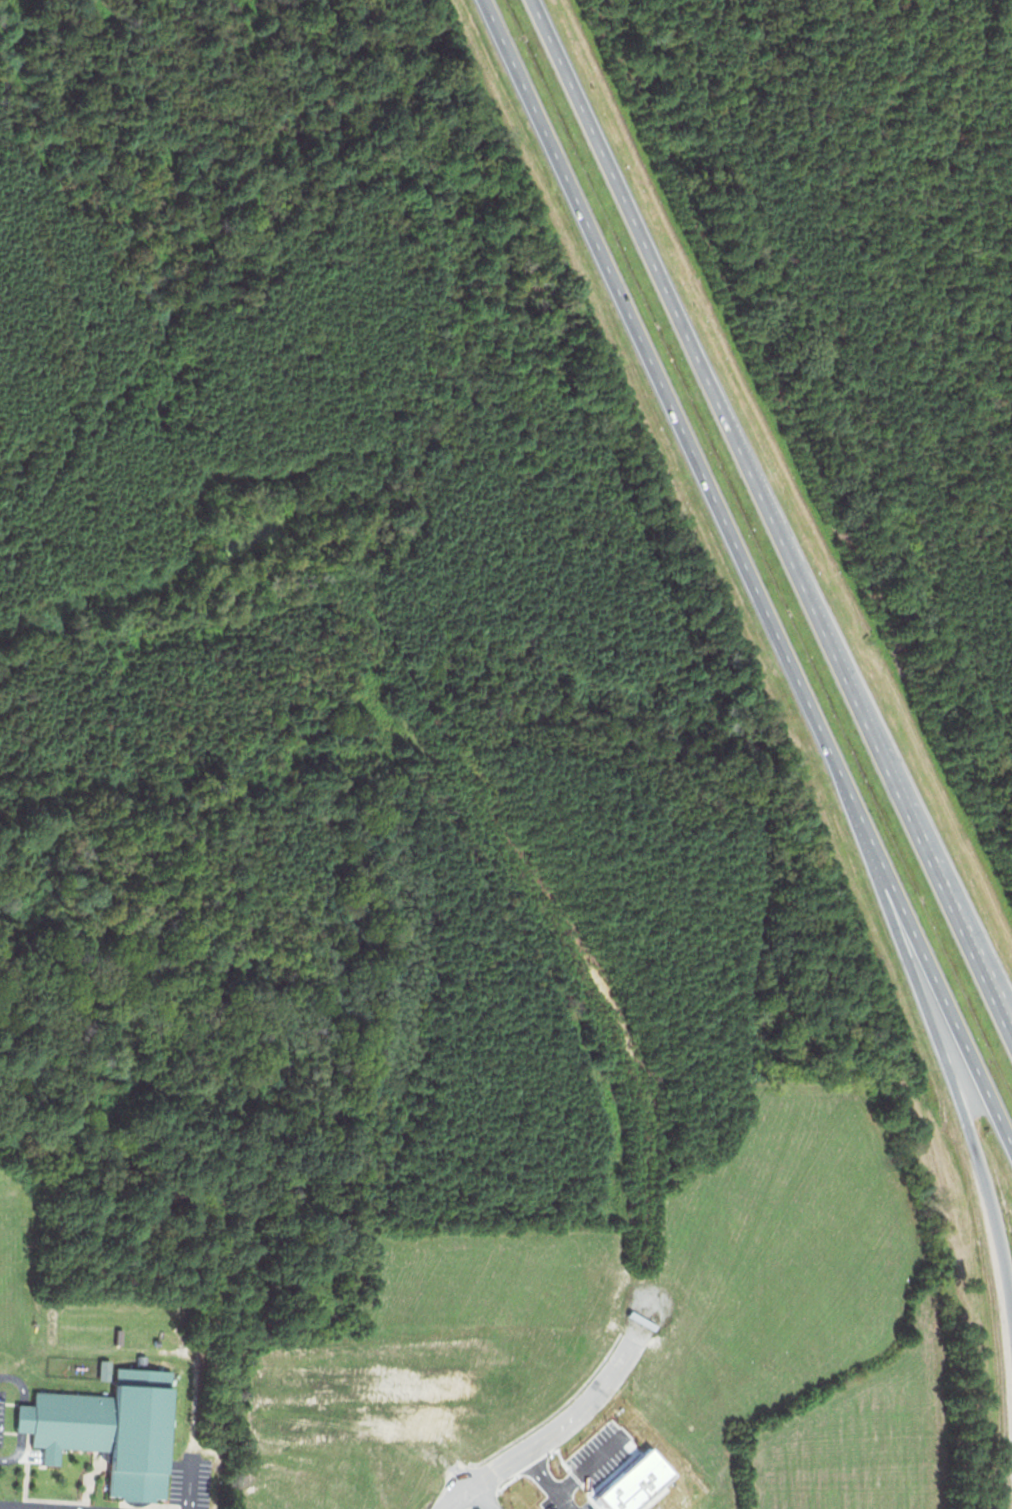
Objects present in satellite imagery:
road: (660, 381)
road: (730, 426)
road: (970, 928)
road: (970, 946)
road: (923, 953)
road: (934, 1036)
building: (141, 1358)
road: (20, 1383)
road: (23, 1418)
road: (565, 1423)
building: (111, 1430)
crop: (868, 1431)
road: (18, 1452)
road: (189, 1487)
road: (482, 1498)
road: (30, 1507)

